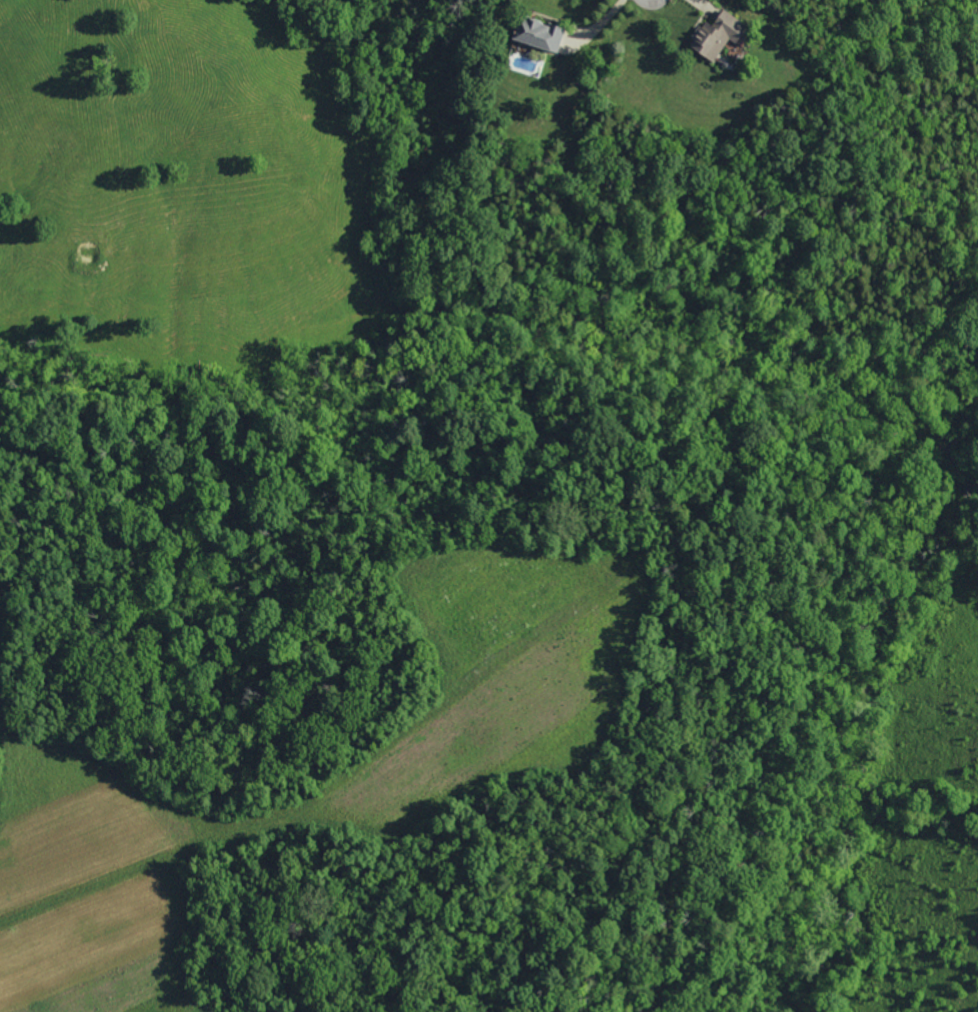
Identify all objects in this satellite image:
building: (534, 34)
building: (714, 34)

